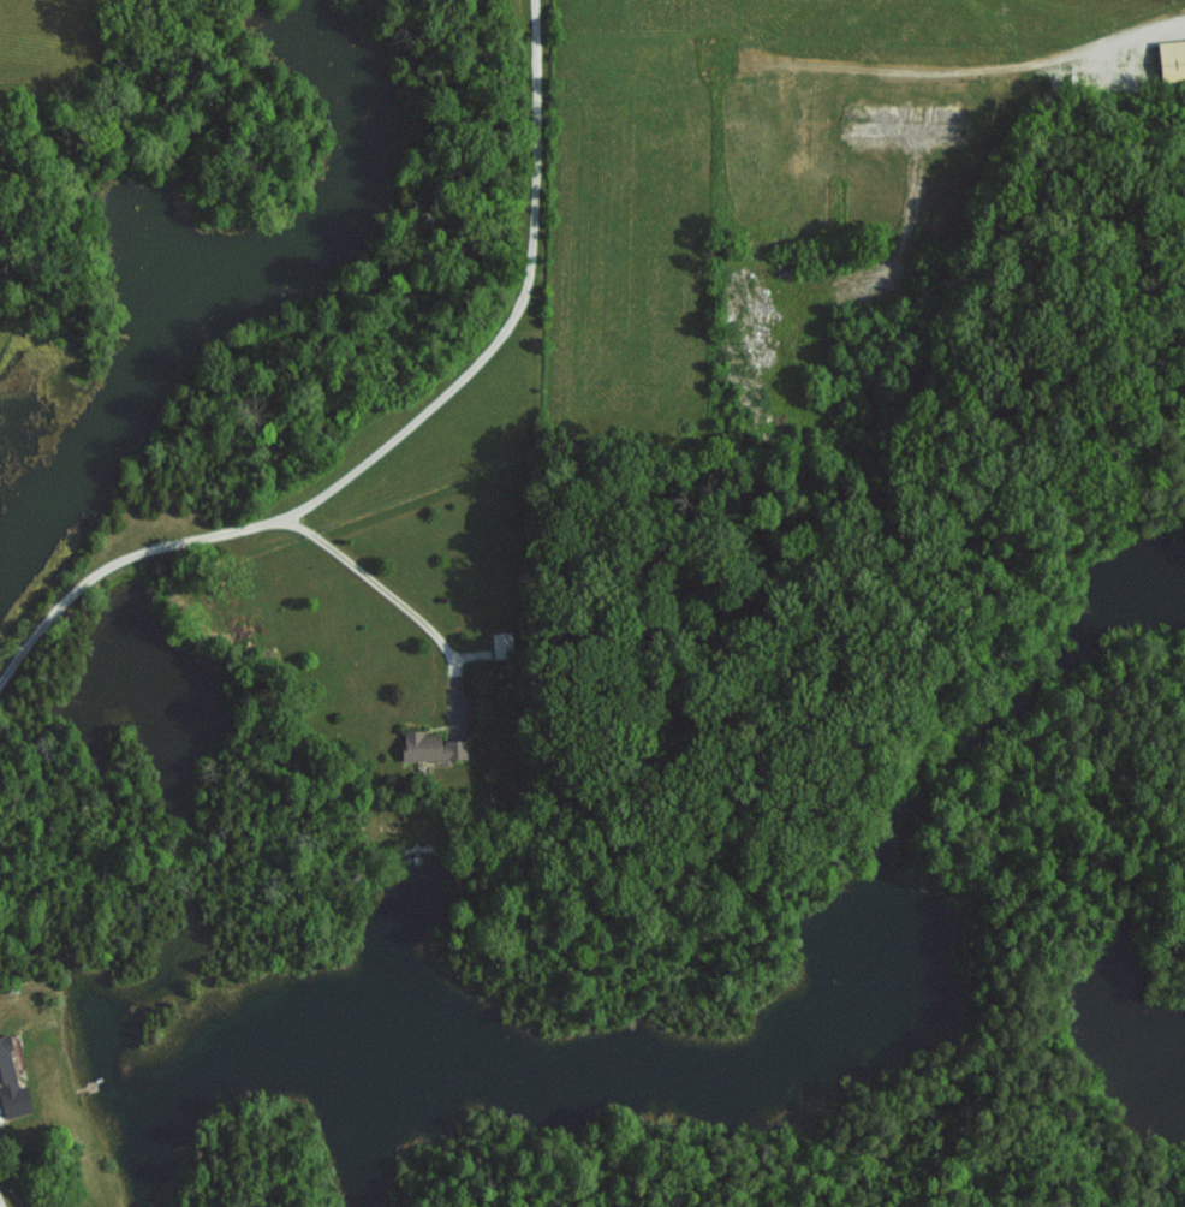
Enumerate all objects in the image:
road: (1056, 55)
building: (1171, 60)
road: (520, 313)
road: (254, 524)
building: (501, 644)
building: (429, 745)
building: (10, 1084)
road: (1, 1193)
road: (2, 1194)

